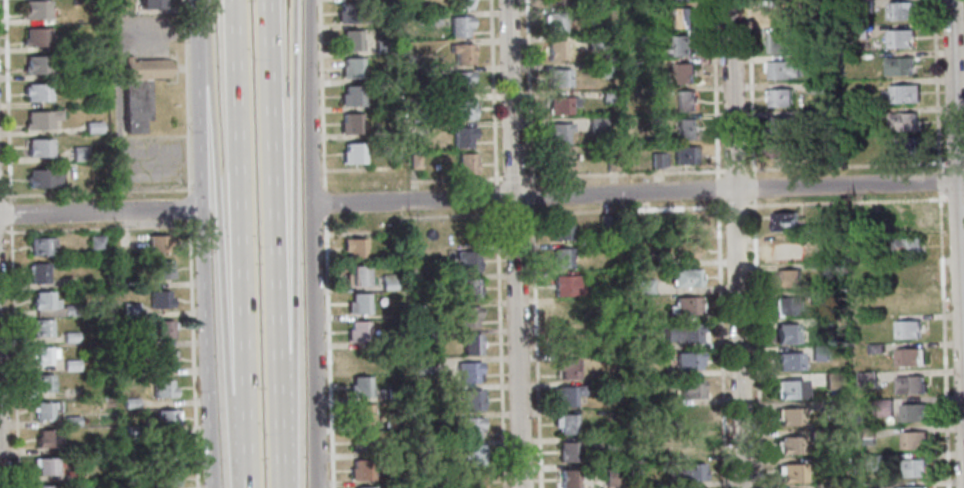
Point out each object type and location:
building: (680, 0)
building: (553, 1)
building: (75, 2)
building: (147, 4)
building: (460, 4)
building: (864, 5)
building: (36, 10)
building: (646, 10)
building: (899, 10)
building: (776, 13)
building: (346, 14)
building: (682, 17)
building: (429, 18)
building: (554, 21)
building: (458, 26)
road: (156, 29)
building: (811, 31)
building: (858, 31)
parking lot: (140, 34)
road: (199, 36)
building: (40, 37)
building: (647, 38)
building: (898, 38)
building: (776, 40)
building: (348, 41)
building: (594, 43)
building: (381, 46)
building: (681, 46)
building: (555, 49)
building: (462, 52)
building: (813, 61)
building: (37, 65)
building: (648, 66)
building: (897, 66)
building: (145, 68)
building: (350, 68)
building: (782, 68)
building: (605, 69)
building: (684, 72)
building: (557, 77)
building: (460, 81)
road: (935, 84)
road: (115, 87)
building: (815, 87)
road: (716, 88)
road: (751, 88)
building: (38, 92)
road: (494, 92)
road: (530, 92)
road: (322, 93)
building: (901, 94)
building: (350, 96)
building: (780, 96)
road: (186, 97)
building: (608, 97)
road: (8, 101)
road: (310, 101)
building: (684, 101)
building: (135, 103)
building: (559, 105)
building: (462, 108)
building: (876, 112)
building: (816, 116)
building: (41, 119)
building: (902, 121)
building: (350, 124)
building: (781, 124)
building: (596, 125)
building: (93, 127)
building: (685, 129)
building: (558, 132)
building: (463, 136)
building: (41, 147)
building: (905, 147)
building: (784, 149)
building: (832, 150)
building: (81, 154)
building: (352, 154)
building: (684, 155)
building: (655, 160)
building: (662, 160)
building: (560, 161)
building: (413, 162)
road: (954, 162)
parking lot: (150, 163)
building: (610, 163)
building: (465, 164)
road: (847, 165)
road: (735, 169)
road: (624, 173)
road: (515, 176)
building: (45, 177)
road: (119, 178)
road: (937, 178)
road: (459, 179)
road: (414, 185)
road: (716, 187)
road: (752, 187)
road: (637, 190)
road: (96, 192)
road: (531, 194)
road: (496, 195)
road: (1, 196)
road: (955, 198)
road: (325, 200)
road: (845, 200)
road: (190, 206)
road: (735, 207)
road: (241, 208)
road: (624, 209)
road: (101, 212)
road: (11, 213)
road: (515, 213)
road: (454, 216)
building: (904, 217)
building: (645, 221)
building: (785, 222)
building: (606, 224)
building: (686, 225)
road: (2, 231)
road: (11, 231)
building: (561, 231)
building: (860, 239)
road: (957, 239)
building: (826, 241)
building: (96, 242)
building: (158, 243)
road: (736, 243)
road: (272, 244)
road: (294, 244)
road: (514, 244)
building: (42, 245)
road: (221, 245)
building: (906, 246)
building: (353, 248)
building: (685, 250)
building: (786, 251)
building: (562, 258)
building: (646, 259)
building: (467, 260)
building: (162, 269)
building: (410, 269)
road: (13, 270)
building: (40, 273)
building: (907, 274)
building: (356, 276)
building: (686, 278)
building: (787, 279)
road: (204, 280)
building: (69, 282)
building: (388, 282)
building: (437, 282)
building: (644, 286)
building: (567, 287)
building: (470, 289)
building: (818, 297)
building: (160, 299)
building: (45, 300)
building: (358, 304)
building: (685, 306)
building: (789, 306)
building: (70, 310)
building: (131, 310)
building: (566, 313)
building: (468, 316)
building: (826, 322)
building: (42, 327)
building: (163, 330)
building: (908, 330)
building: (358, 332)
building: (681, 332)
building: (787, 334)
building: (430, 336)
building: (71, 337)
road: (942, 338)
building: (565, 340)
building: (142, 342)
building: (471, 343)
road: (721, 343)
road: (757, 343)
building: (647, 344)
road: (314, 345)
road: (535, 346)
road: (500, 347)
building: (874, 348)
road: (329, 350)
road: (194, 353)
building: (819, 354)
building: (43, 355)
building: (909, 358)
building: (164, 359)
building: (687, 361)
building: (790, 362)
building: (357, 364)
building: (71, 365)
building: (421, 366)
building: (567, 368)
building: (468, 371)
building: (142, 372)
building: (866, 380)
building: (833, 381)
building: (44, 382)
building: (909, 385)
building: (614, 386)
building: (360, 387)
building: (163, 389)
building: (789, 389)
building: (690, 390)
building: (395, 394)
building: (566, 395)
building: (472, 399)
building: (653, 401)
building: (130, 404)
building: (832, 407)
building: (882, 408)
building: (46, 409)
building: (914, 412)
building: (361, 415)
building: (691, 417)
building: (791, 417)
building: (166, 418)
building: (72, 421)
building: (391, 424)
building: (565, 424)
building: (646, 424)
building: (471, 427)
building: (131, 431)
building: (866, 433)
building: (47, 439)
building: (914, 440)
building: (865, 441)
building: (361, 443)
building: (611, 444)
building: (691, 446)
building: (791, 446)
building: (424, 449)
building: (167, 450)
building: (567, 452)
road: (247, 453)
building: (471, 455)
building: (870, 462)
building: (47, 465)
building: (913, 469)
building: (360, 470)
building: (688, 473)
building: (793, 473)
building: (444, 474)
road: (0, 475)
building: (612, 477)
building: (166, 479)
building: (568, 479)
building: (475, 481)
building: (839, 485)
building: (866, 485)
building: (47, 487)
building: (915, 487)

